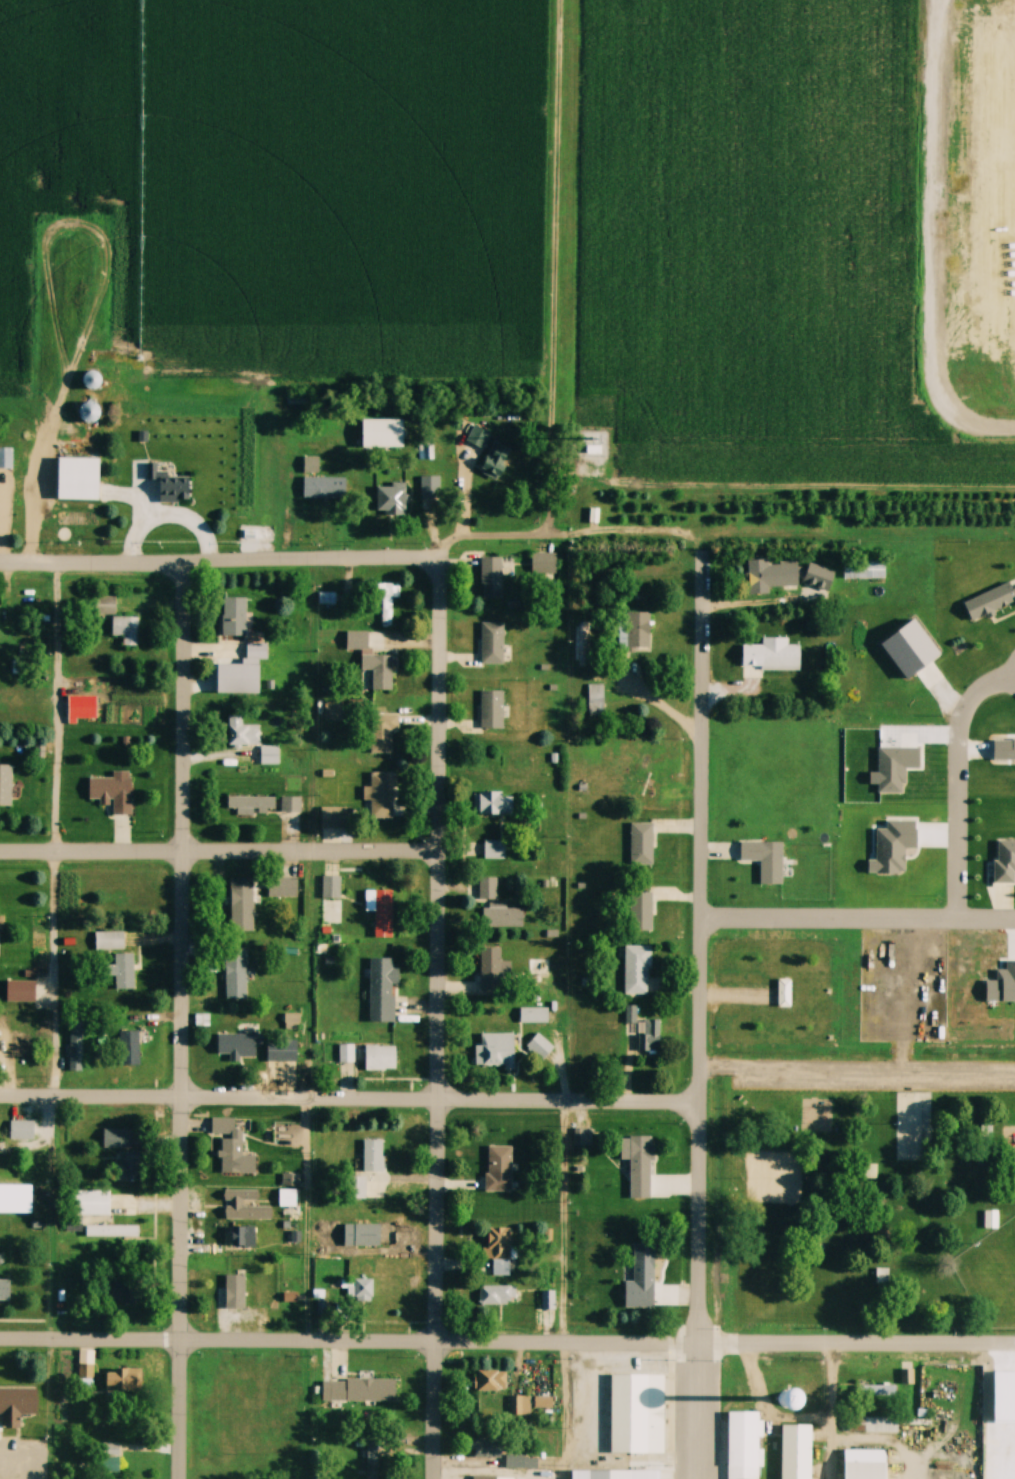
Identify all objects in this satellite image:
crop: (329, 174)
road: (552, 306)
building: (91, 380)
building: (89, 411)
building: (476, 438)
building: (5, 458)
building: (495, 461)
building: (310, 465)
building: (78, 477)
building: (168, 481)
building: (325, 485)
building: (429, 491)
building: (391, 500)
road: (446, 548)
road: (220, 561)
building: (543, 563)
building: (863, 570)
building: (767, 575)
building: (491, 578)
building: (990, 601)
building: (386, 603)
building: (233, 614)
building: (125, 629)
building: (637, 632)
building: (492, 641)
building: (580, 641)
building: (256, 651)
building: (372, 664)
building: (796, 674)
building: (595, 700)
road: (655, 702)
building: (492, 707)
building: (333, 710)
building: (383, 731)
building: (643, 770)
road: (955, 784)
building: (5, 785)
building: (381, 792)
building: (112, 793)
building: (493, 803)
building: (252, 804)
building: (290, 804)
building: (335, 817)
building: (642, 841)
building: (494, 849)
road: (220, 852)
building: (765, 860)
building: (282, 887)
building: (330, 887)
building: (487, 887)
building: (241, 904)
building: (381, 911)
building: (640, 911)
building: (501, 916)
road: (858, 921)
building: (109, 941)
building: (494, 970)
building: (636, 970)
building: (123, 971)
building: (539, 973)
building: (235, 975)
building: (382, 990)
building: (784, 992)
building: (533, 1015)
road: (184, 1020)
road: (441, 1024)
building: (649, 1037)
building: (238, 1046)
building: (539, 1047)
road: (702, 1048)
building: (75, 1049)
building: (129, 1049)
building: (497, 1051)
building: (346, 1054)
building: (380, 1058)
road: (351, 1100)
building: (222, 1126)
building: (912, 1126)
park: (913, 1126)
building: (21, 1131)
building: (582, 1137)
building: (116, 1138)
building: (373, 1156)
building: (232, 1157)
park: (767, 1158)
building: (638, 1165)
building: (127, 1166)
building: (498, 1168)
building: (357, 1187)
park: (866, 1194)
building: (287, 1198)
building: (92, 1203)
building: (243, 1206)
road: (310, 1220)
building: (989, 1220)
road: (566, 1222)
building: (111, 1231)
building: (361, 1233)
building: (240, 1237)
building: (499, 1252)
building: (643, 1263)
building: (763, 1263)
park: (992, 1276)
park: (758, 1282)
building: (357, 1288)
building: (4, 1290)
building: (234, 1292)
building: (121, 1293)
building: (497, 1295)
road: (507, 1342)
building: (85, 1372)
building: (123, 1381)
building: (492, 1381)
building: (371, 1388)
water tower: (786, 1403)
building: (17, 1405)
building: (520, 1406)
building: (638, 1411)
road: (837, 1411)
building: (1000, 1413)
building: (1000, 1440)
building: (741, 1445)
building: (485, 1448)
building: (796, 1451)
building: (371, 1459)
building: (864, 1464)
building: (610, 1473)
building: (483, 1478)

